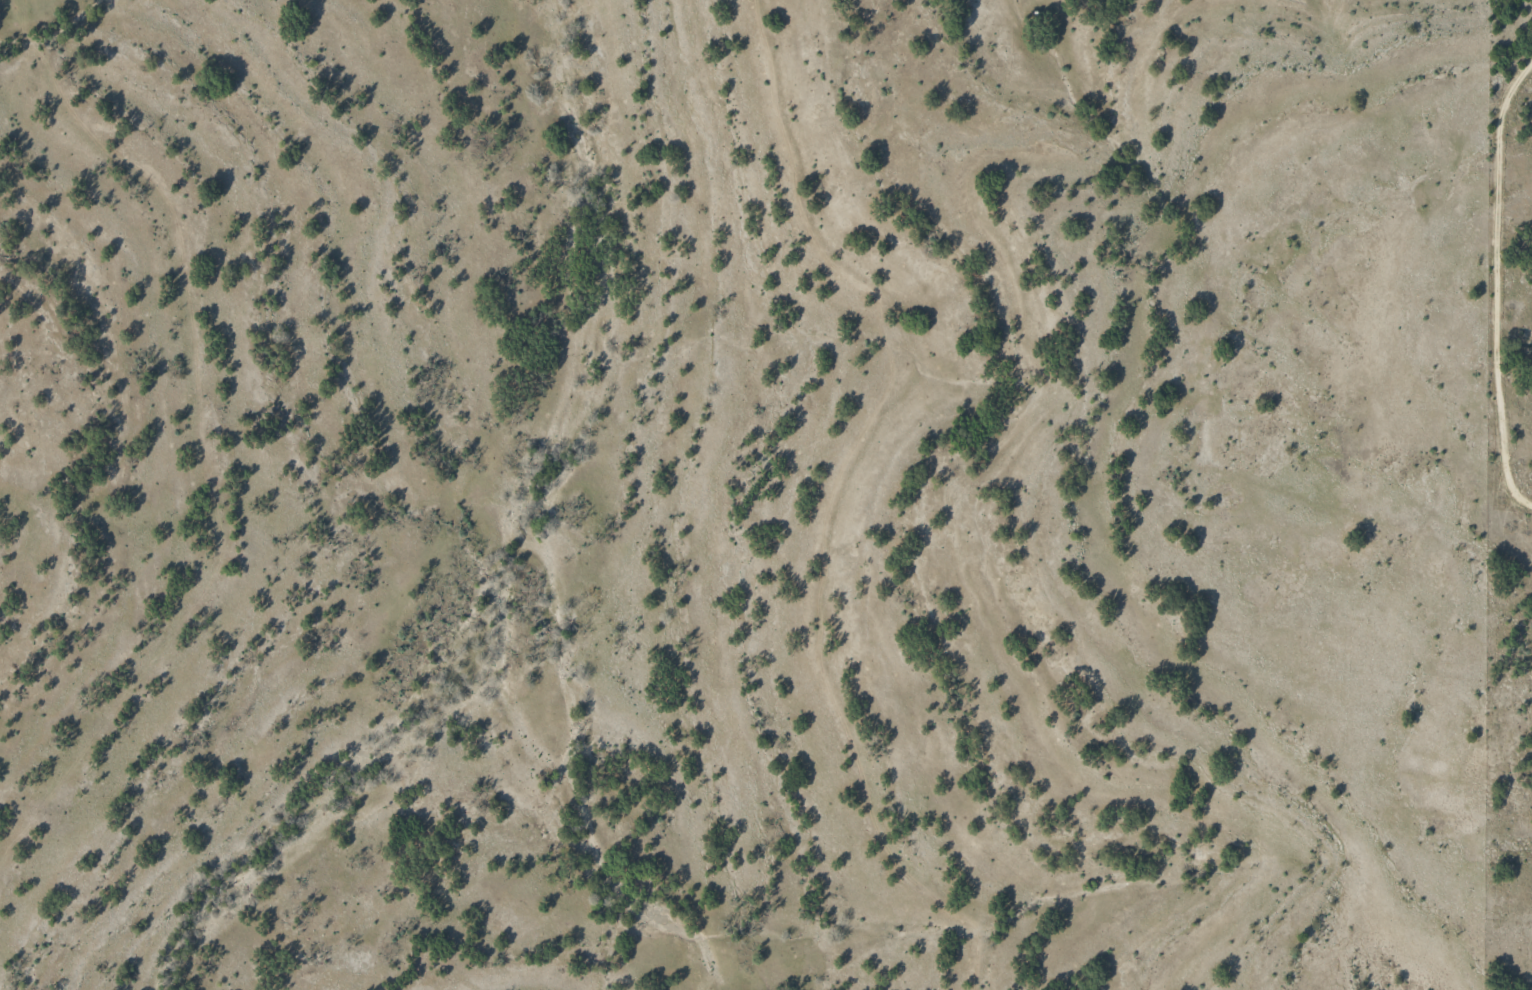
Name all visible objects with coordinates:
road: (1496, 284)

